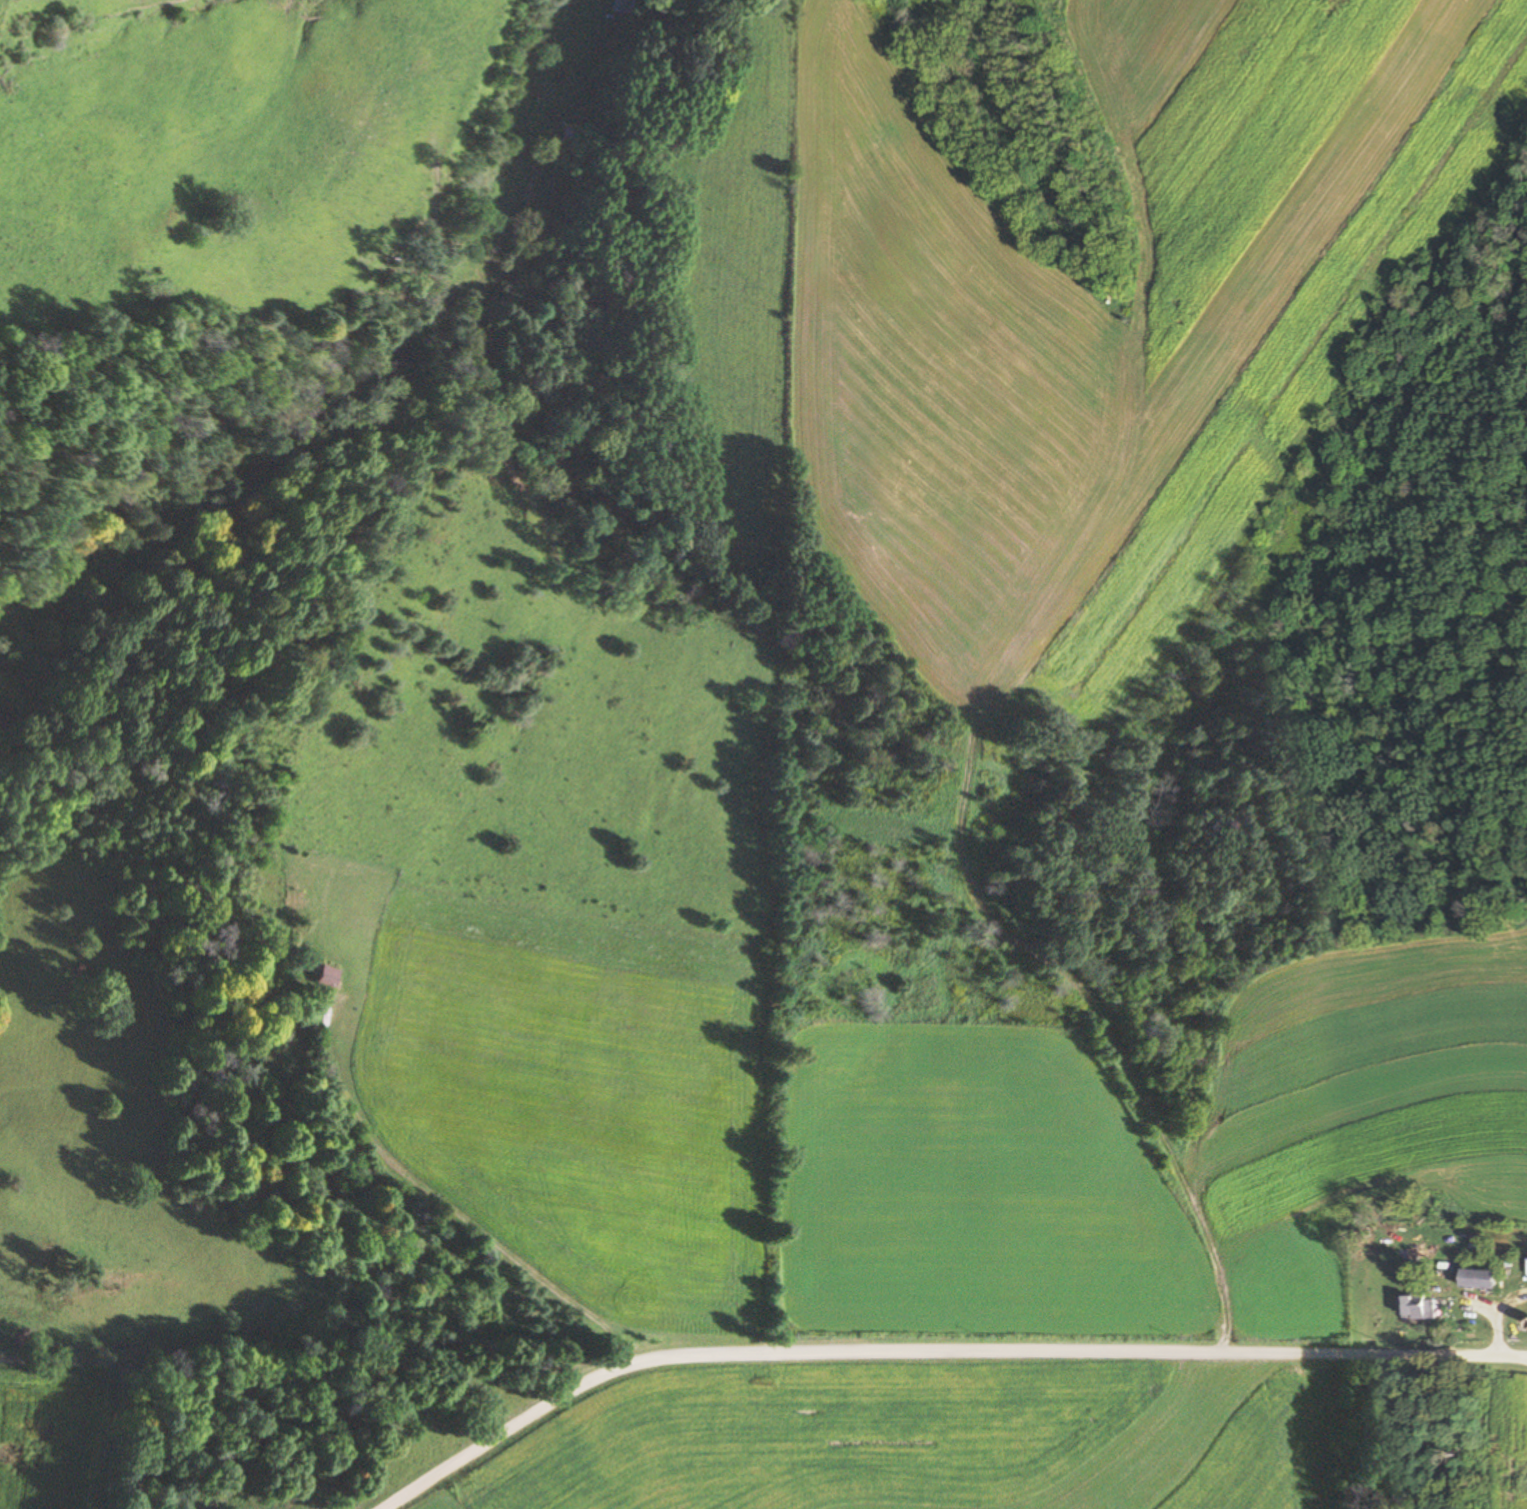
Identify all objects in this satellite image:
building: (622, 7)
building: (322, 977)
building: (1526, 1268)
building: (1476, 1277)
building: (1417, 1307)
road: (1493, 1320)
road: (932, 1354)
road: (1524, 1355)

